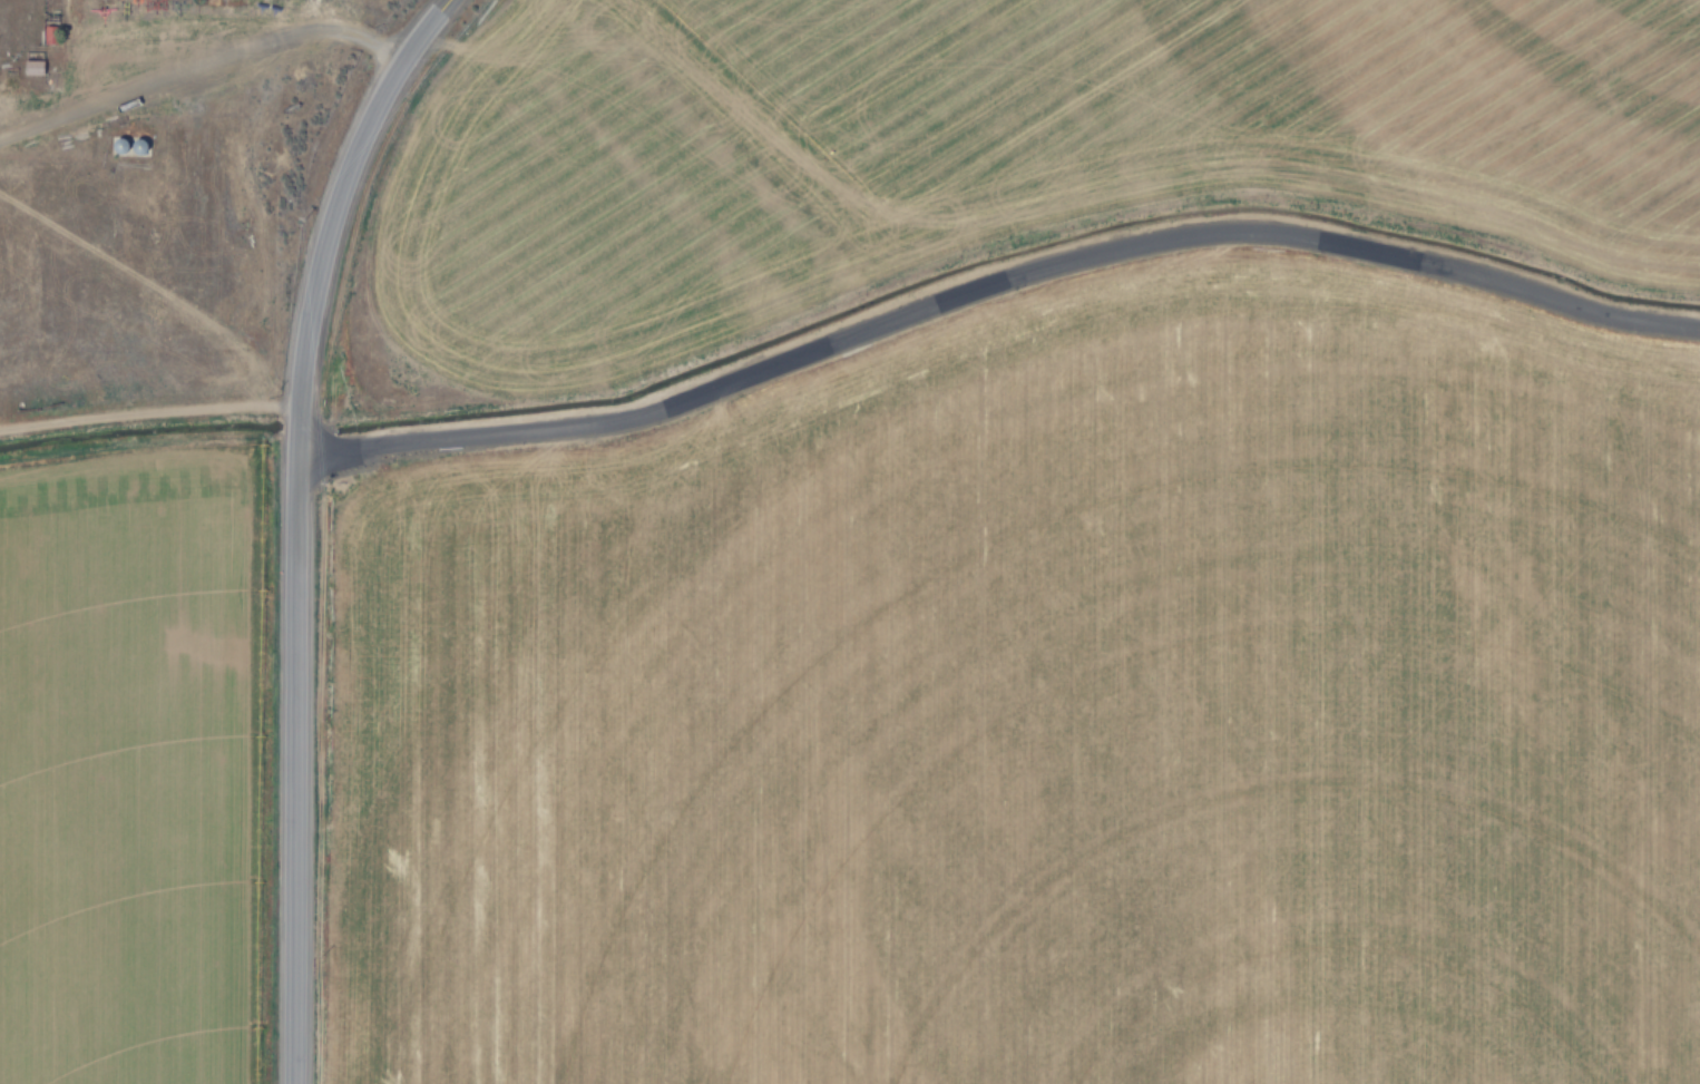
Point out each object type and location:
building: (37, 67)
building: (123, 145)
silo: (123, 145)
building: (141, 146)
silo: (141, 146)
crop: (965, 155)
building: (198, 226)
road: (995, 282)
crop: (146, 515)
road: (299, 525)
crop: (1046, 713)

